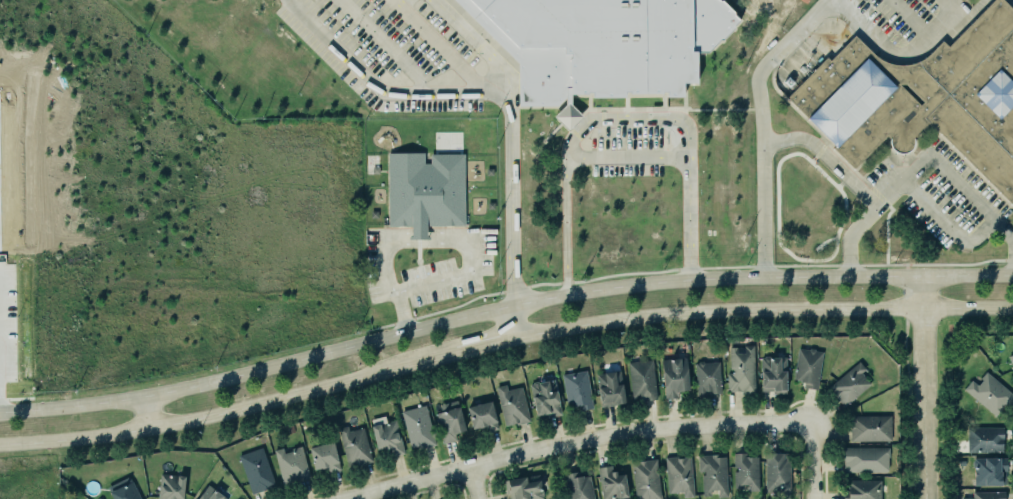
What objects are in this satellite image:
road: (907, 18)
road: (473, 42)
building: (600, 43)
road: (384, 47)
road: (442, 47)
road: (897, 53)
road: (370, 85)
road: (493, 94)
building: (922, 97)
road: (761, 125)
road: (686, 136)
road: (628, 157)
road: (826, 157)
road: (17, 165)
building: (424, 190)
road: (510, 198)
road: (973, 201)
road: (874, 209)
road: (564, 222)
road: (943, 226)
road: (417, 231)
road: (383, 250)
road: (467, 268)
road: (501, 309)
road: (763, 310)
road: (401, 314)
road: (514, 321)
road: (486, 344)
building: (1010, 357)
building: (808, 367)
building: (740, 370)
building: (773, 374)
building: (673, 375)
building: (708, 378)
building: (641, 380)
building: (849, 384)
building: (610, 388)
road: (923, 388)
building: (577, 390)
building: (986, 390)
building: (544, 398)
building: (511, 404)
road: (231, 410)
road: (146, 413)
building: (481, 416)
building: (450, 421)
building: (417, 427)
building: (869, 427)
building: (387, 435)
building: (982, 436)
road: (581, 442)
building: (353, 445)
building: (323, 456)
building: (865, 459)
road: (816, 461)
building: (291, 464)
building: (254, 467)
building: (986, 467)
building: (746, 472)
building: (777, 472)
building: (712, 473)
building: (679, 475)
building: (646, 479)
building: (610, 482)
road: (476, 483)
building: (577, 485)
building: (169, 486)
building: (522, 488)
building: (862, 489)
building: (124, 492)
building: (983, 493)
building: (209, 494)

